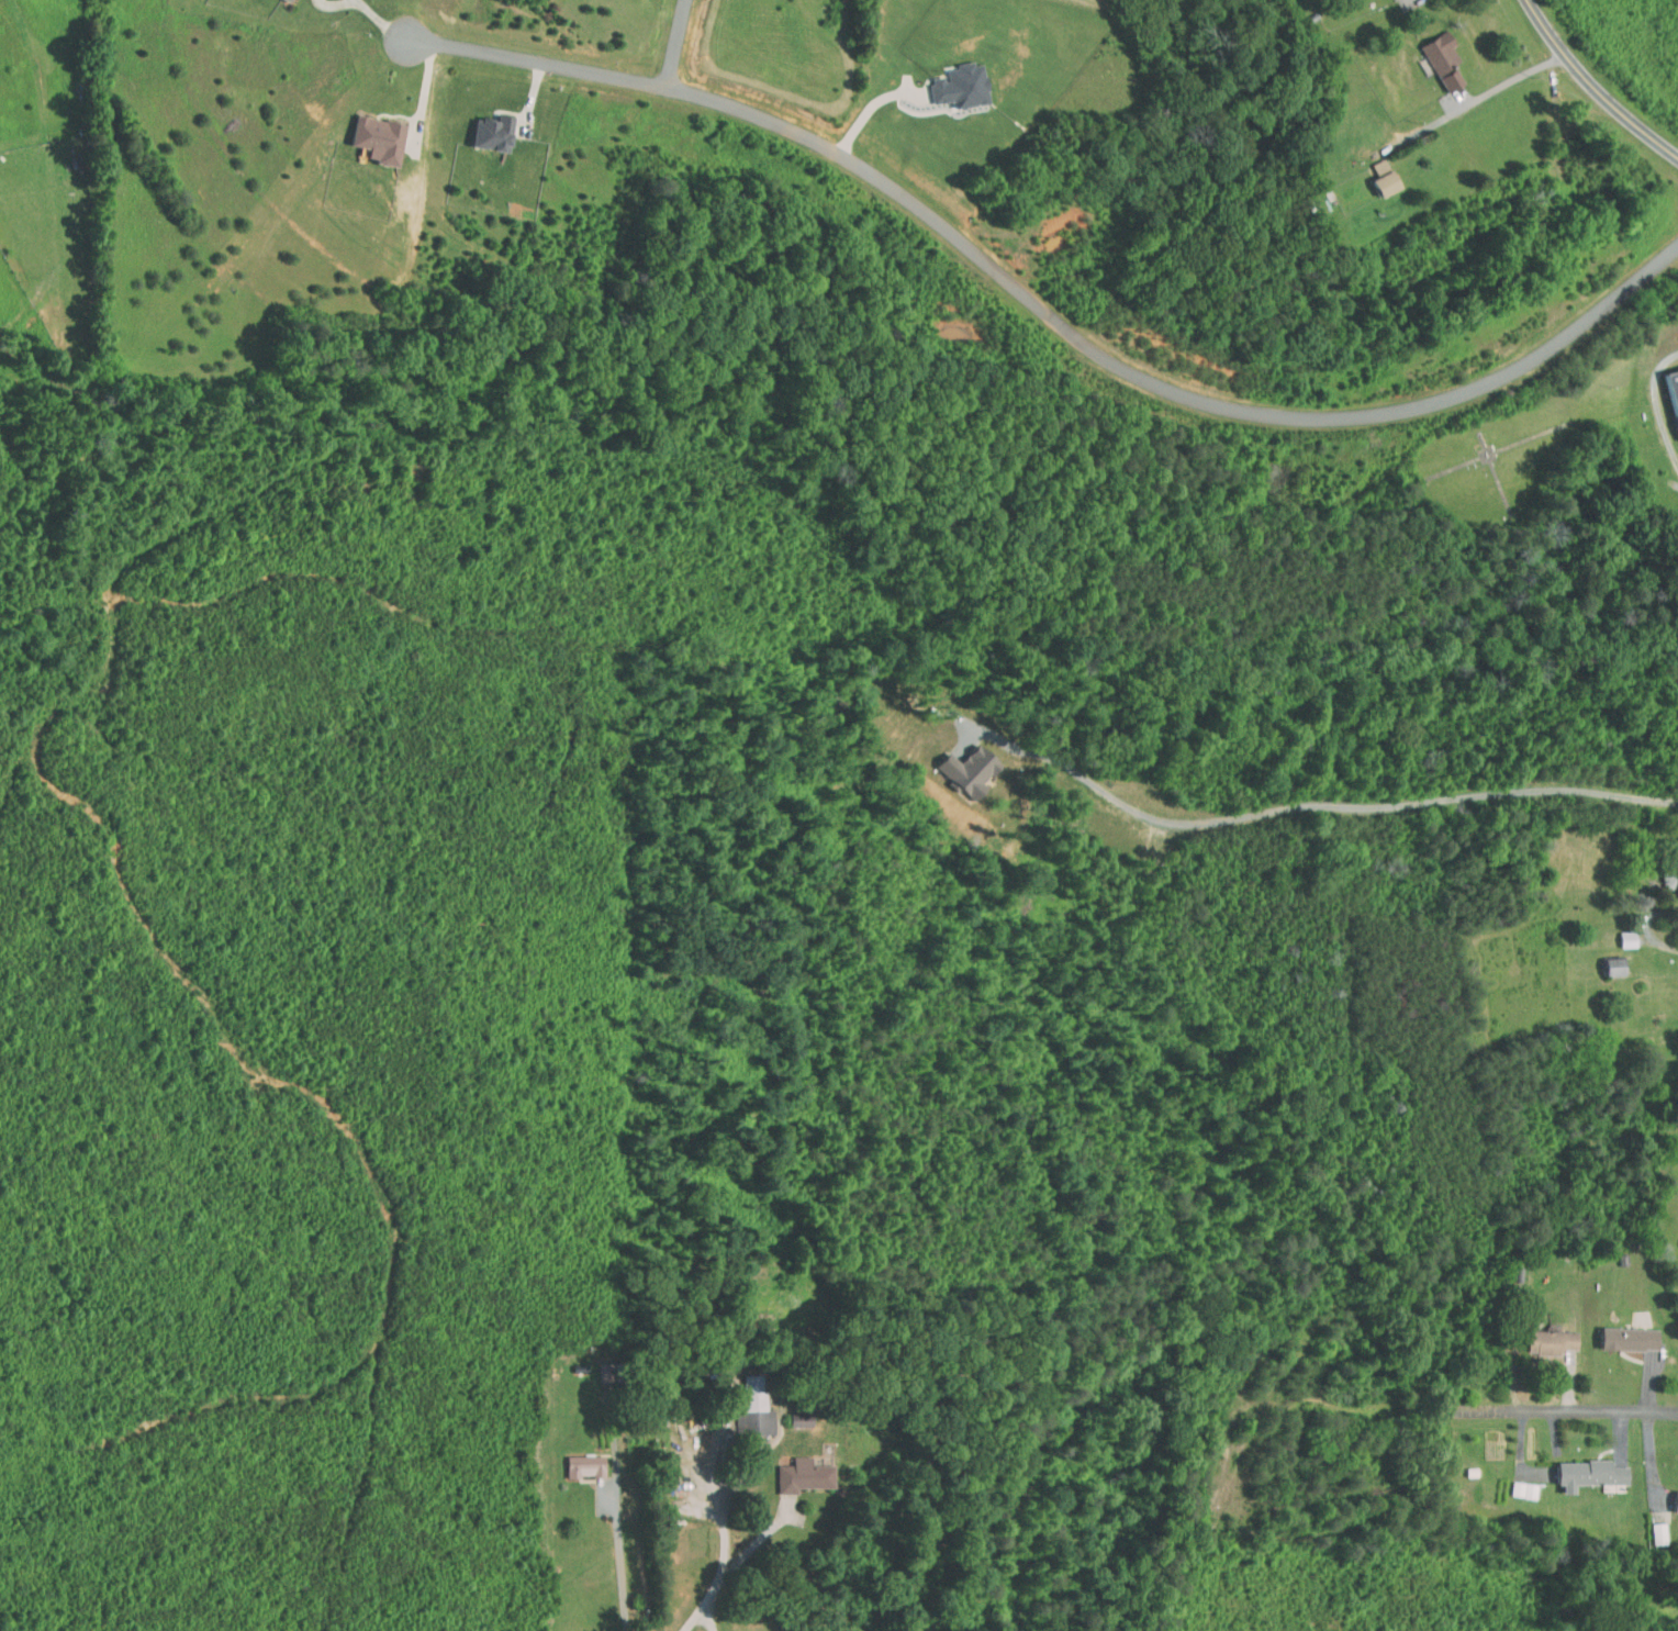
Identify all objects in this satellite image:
road: (360, 2)
road: (340, 4)
road: (387, 24)
road: (676, 45)
building: (1432, 53)
building: (948, 78)
road: (1510, 81)
road: (1593, 87)
road: (424, 97)
road: (871, 105)
building: (480, 125)
building: (366, 132)
building: (1373, 170)
road: (1048, 317)
building: (1669, 392)
road: (1656, 402)
building: (959, 763)
road: (1328, 798)
building: (1667, 875)
road: (1651, 926)
building: (1617, 932)
building: (1603, 960)
building: (1619, 1332)
building: (1540, 1336)
building: (743, 1403)
road: (1568, 1410)
building: (788, 1412)
building: (573, 1461)
building: (1578, 1467)
building: (792, 1470)
building: (1513, 1484)
building: (1670, 1494)
road: (728, 1517)
building: (1647, 1527)
road: (623, 1560)
road: (732, 1568)
road: (709, 1618)

